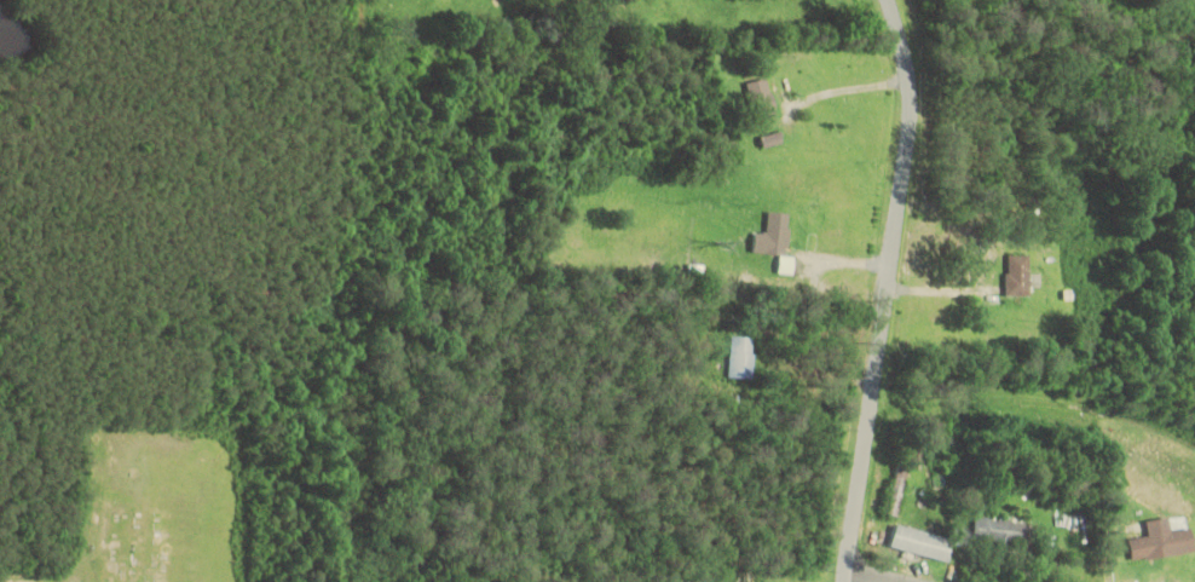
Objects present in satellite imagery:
building: (757, 102)
building: (774, 236)
building: (1011, 277)
road: (885, 289)
road: (106, 293)
building: (735, 359)
building: (991, 535)
building: (1160, 542)
building: (931, 555)
road: (860, 578)

